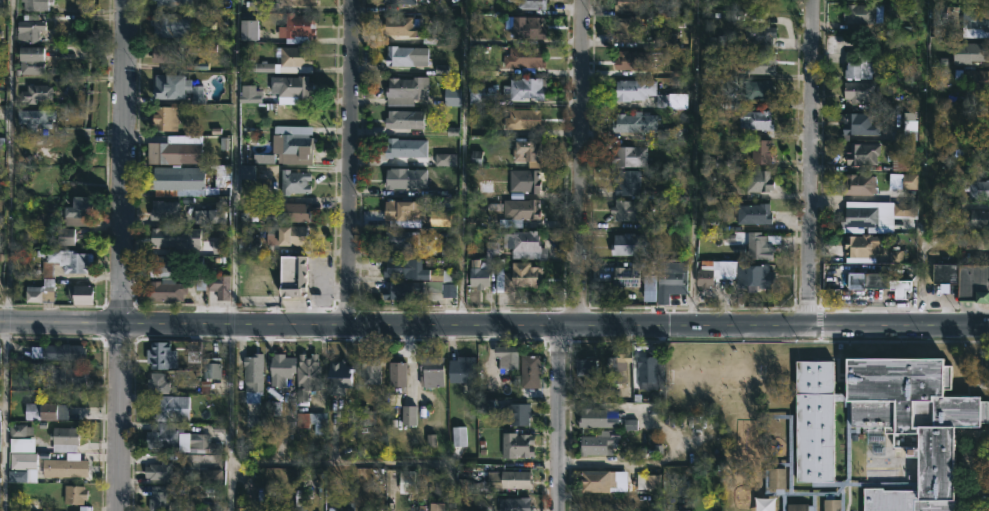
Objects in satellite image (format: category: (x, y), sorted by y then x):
building: (399, 2)
building: (167, 3)
building: (300, 4)
building: (34, 5)
building: (529, 5)
building: (629, 5)
building: (863, 13)
building: (975, 19)
building: (163, 26)
building: (400, 26)
building: (295, 28)
building: (527, 28)
building: (28, 29)
building: (628, 29)
building: (249, 31)
building: (0, 35)
building: (760, 35)
building: (970, 52)
building: (165, 53)
building: (399, 56)
building: (30, 60)
building: (632, 60)
building: (282, 61)
building: (858, 64)
building: (759, 65)
building: (523, 73)
building: (977, 85)
building: (166, 86)
building: (293, 89)
building: (405, 91)
building: (760, 91)
building: (860, 91)
building: (35, 93)
building: (646, 94)
building: (248, 95)
building: (480, 97)
building: (34, 119)
building: (165, 119)
building: (403, 120)
building: (523, 120)
building: (756, 120)
building: (634, 123)
building: (858, 125)
building: (906, 131)
building: (0, 142)
building: (497, 144)
building: (293, 148)
building: (398, 148)
building: (525, 150)
building: (760, 151)
building: (164, 152)
building: (860, 155)
building: (628, 156)
road: (350, 161)
road: (582, 162)
road: (692, 162)
road: (810, 162)
road: (920, 162)
building: (251, 171)
building: (400, 179)
building: (524, 181)
building: (757, 181)
building: (909, 181)
building: (177, 182)
building: (293, 182)
building: (626, 183)
building: (858, 185)
building: (977, 189)
building: (499, 191)
building: (520, 209)
building: (402, 210)
building: (76, 211)
building: (163, 211)
building: (627, 211)
building: (295, 213)
building: (875, 214)
building: (753, 215)
building: (208, 217)
building: (976, 219)
building: (500, 221)
building: (286, 236)
building: (164, 237)
building: (68, 238)
building: (401, 241)
building: (524, 245)
building: (628, 245)
building: (760, 247)
building: (862, 247)
road: (7, 255)
road: (120, 255)
road: (233, 255)
building: (62, 262)
building: (259, 264)
building: (164, 267)
building: (402, 268)
building: (735, 273)
building: (441, 275)
building: (291, 276)
building: (626, 276)
building: (478, 278)
building: (517, 278)
building: (964, 279)
building: (669, 280)
building: (880, 283)
building: (218, 286)
building: (414, 290)
building: (164, 292)
building: (650, 293)
building: (37, 295)
building: (78, 295)
road: (494, 324)
building: (57, 351)
building: (0, 355)
building: (160, 355)
building: (506, 355)
building: (462, 365)
building: (210, 366)
building: (617, 366)
building: (279, 368)
building: (586, 368)
building: (370, 369)
building: (431, 369)
building: (529, 370)
building: (648, 370)
building: (253, 371)
building: (396, 373)
building: (306, 374)
building: (66, 376)
building: (338, 376)
building: (156, 382)
building: (164, 407)
building: (44, 410)
building: (407, 412)
building: (516, 413)
building: (596, 417)
road: (555, 418)
building: (311, 421)
building: (886, 422)
building: (630, 424)
building: (164, 434)
building: (64, 436)
building: (20, 444)
building: (202, 444)
building: (516, 444)
building: (595, 445)
road: (394, 464)
building: (65, 465)
building: (22, 467)
building: (158, 470)
building: (204, 476)
building: (508, 479)
building: (777, 479)
building: (596, 480)
building: (648, 482)
road: (450, 487)
building: (74, 493)
building: (158, 498)
building: (514, 504)
building: (831, 505)
building: (797, 507)
building: (299, 508)
building: (687, 510)

